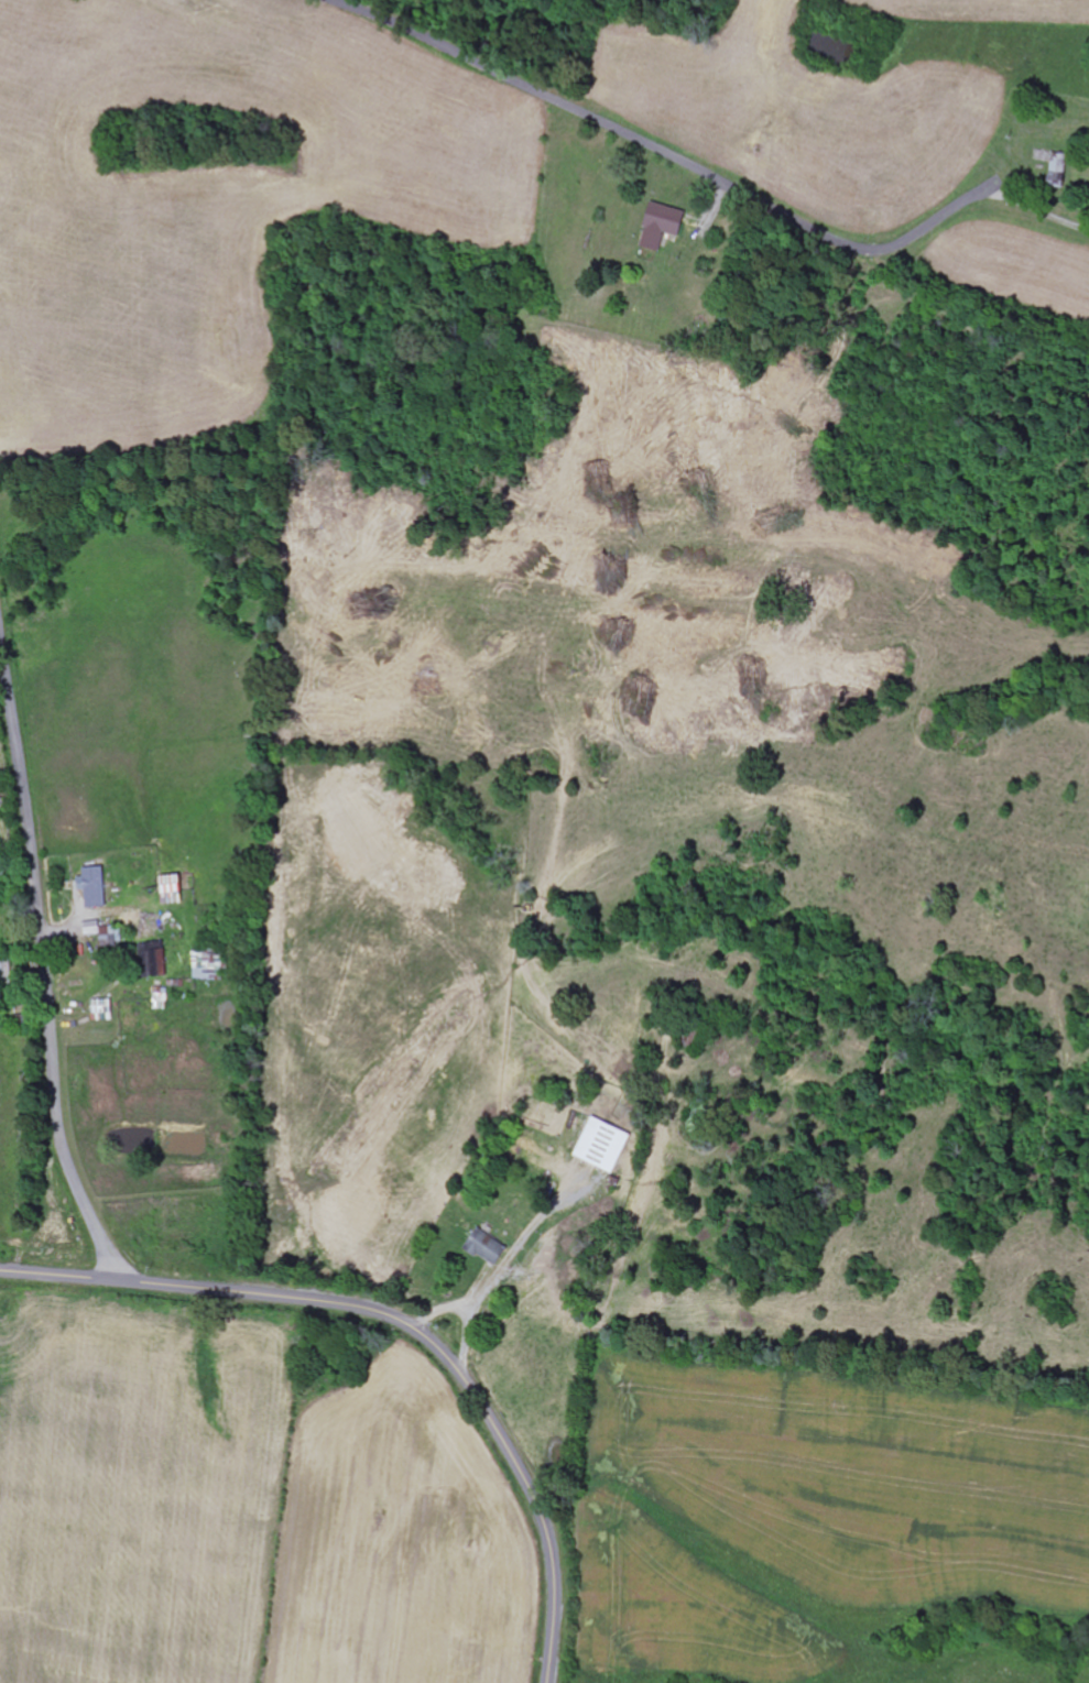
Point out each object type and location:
road: (668, 155)
building: (1060, 166)
building: (665, 226)
building: (96, 887)
building: (176, 890)
building: (95, 928)
road: (43, 958)
building: (157, 964)
building: (209, 965)
building: (163, 998)
building: (106, 1010)
building: (607, 1144)
building: (491, 1247)
road: (55, 1275)
road: (447, 1357)

